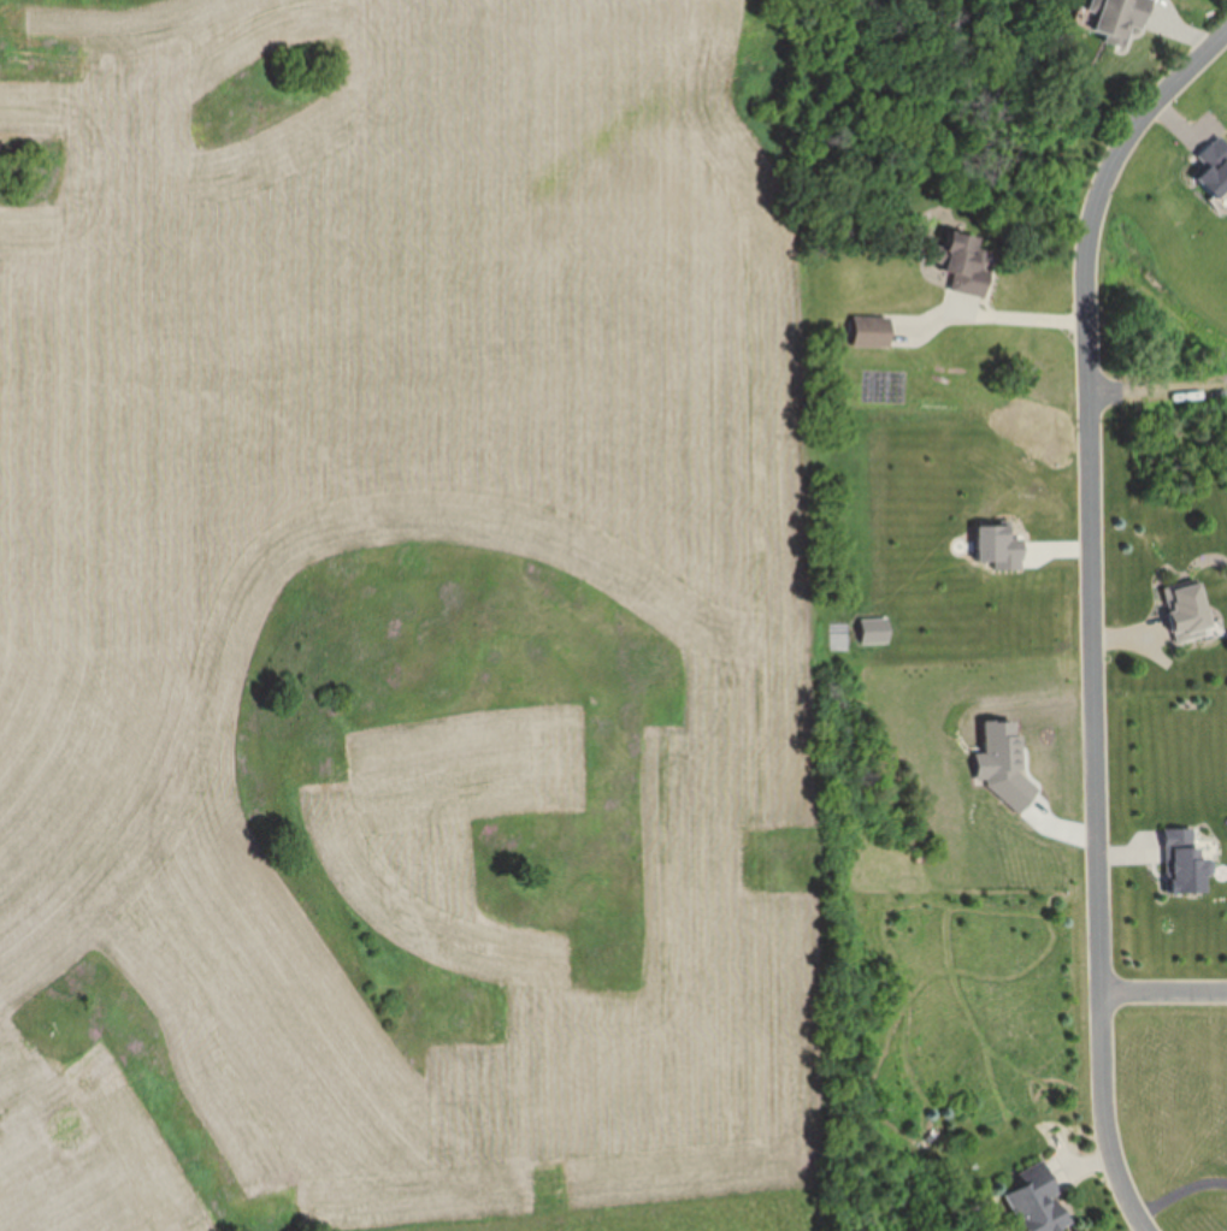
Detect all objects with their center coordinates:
building: (1116, 17)
building: (963, 266)
road: (1022, 315)
building: (871, 331)
road: (1146, 387)
road: (1096, 603)
building: (1187, 610)
road: (1166, 990)
road: (1181, 1192)
building: (1043, 1202)

